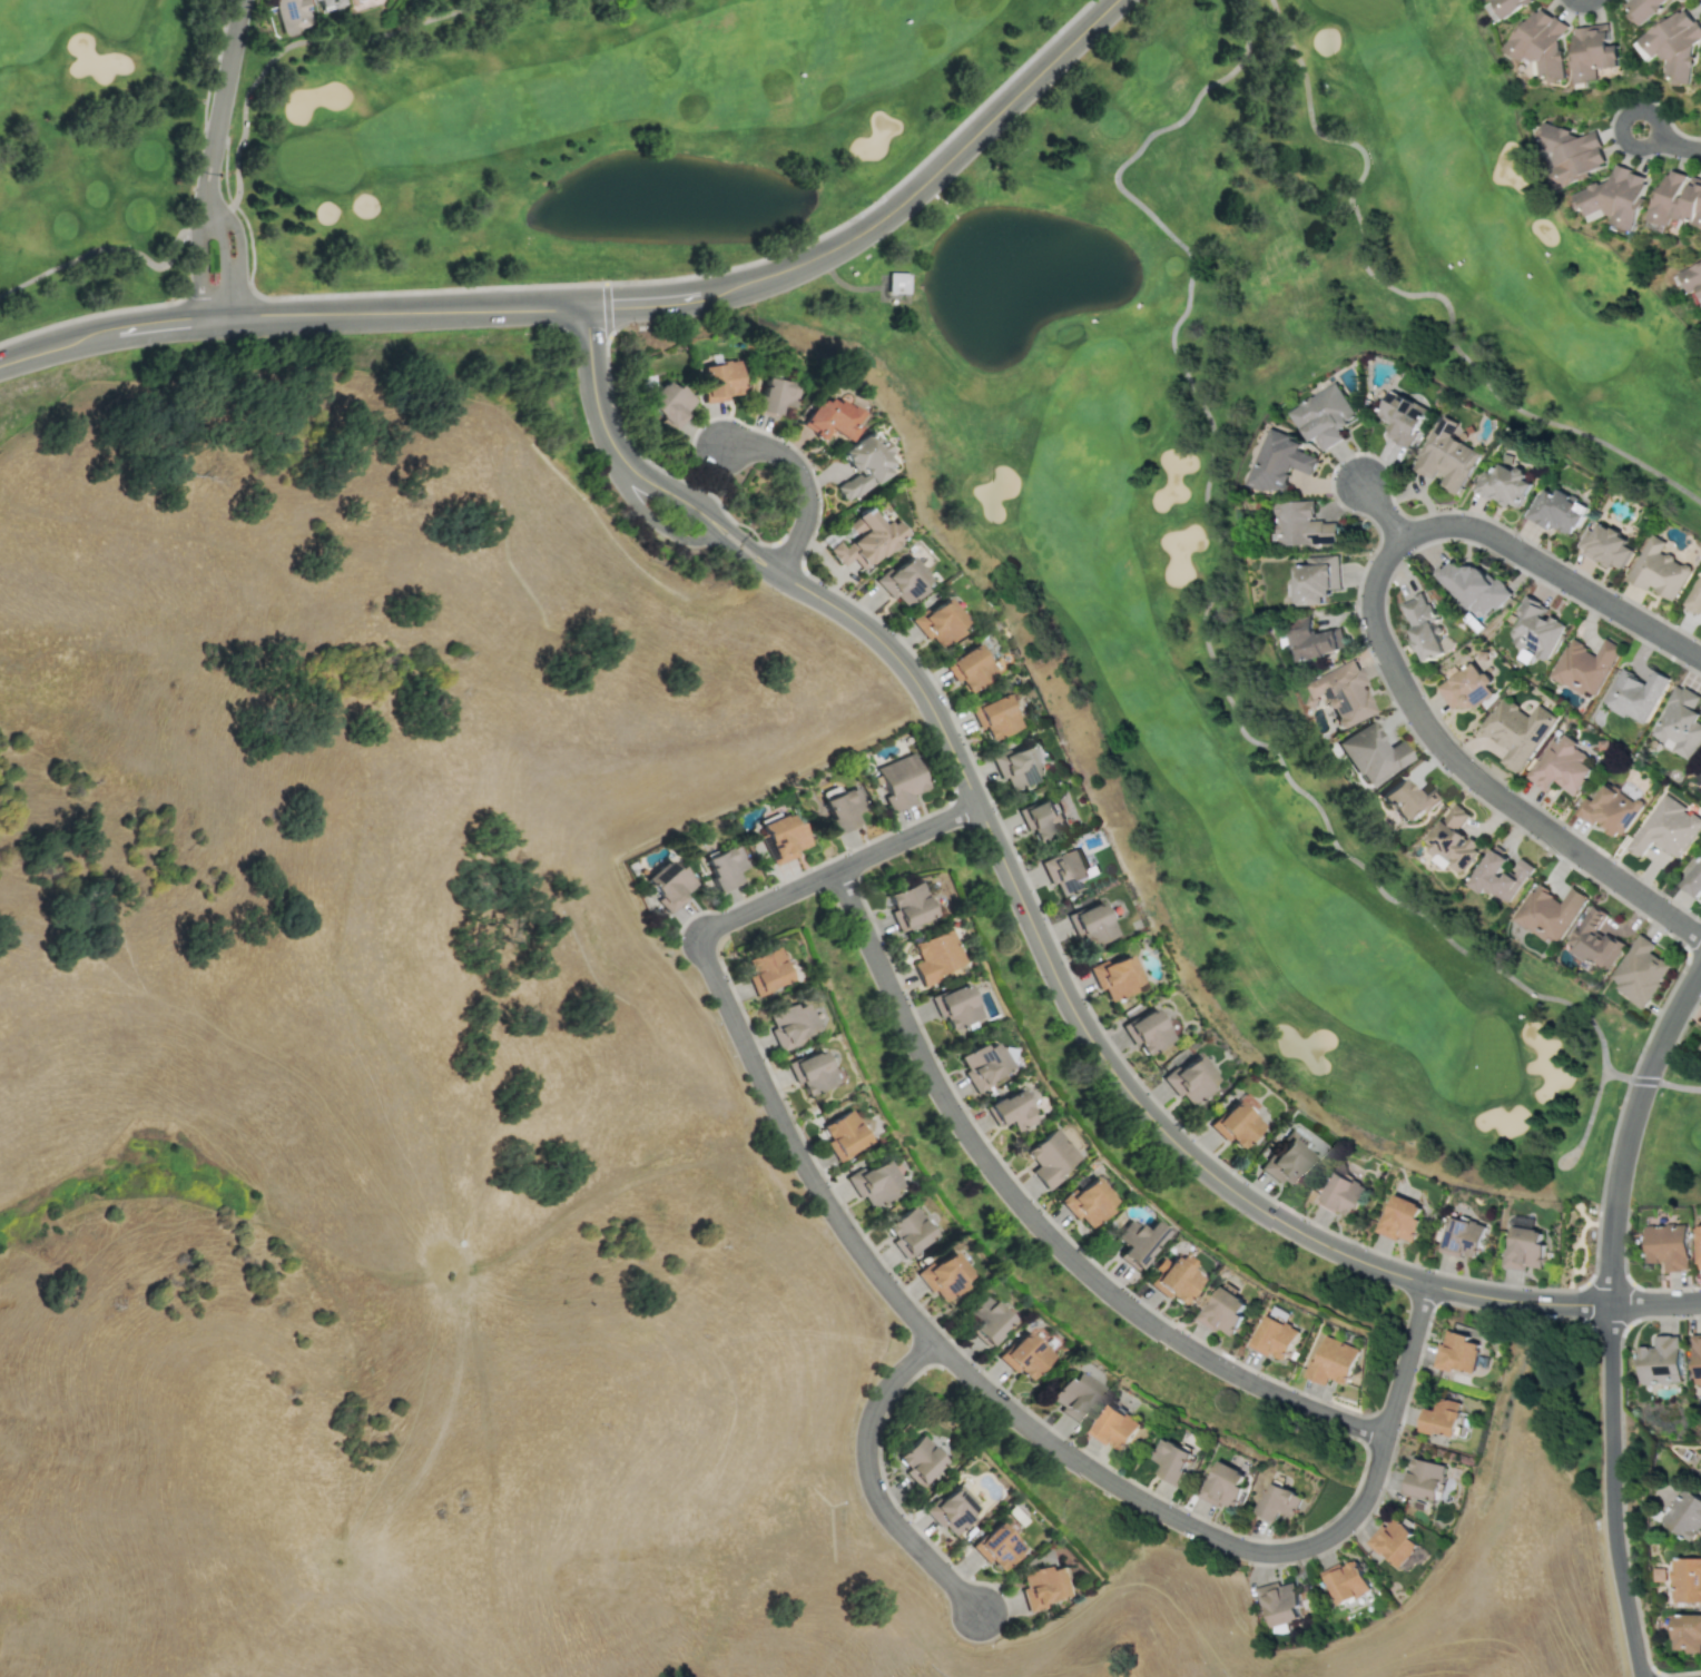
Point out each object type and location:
building: (309, 0)
road: (1582, 2)
building: (327, 3)
building: (1507, 4)
building: (1645, 9)
building: (291, 14)
park: (308, 18)
park: (1385, 28)
road: (293, 43)
building: (1541, 43)
building: (1674, 43)
building: (1593, 51)
road: (227, 70)
road: (1618, 134)
road: (1677, 146)
building: (1572, 152)
road: (928, 178)
park: (1628, 191)
building: (1614, 197)
building: (1677, 200)
road: (209, 214)
road: (237, 228)
road: (198, 231)
road: (106, 247)
road: (223, 254)
building: (1691, 277)
building: (897, 283)
road: (1415, 293)
road: (643, 300)
road: (401, 312)
road: (153, 325)
road: (45, 349)
building: (719, 381)
building: (774, 396)
building: (668, 403)
building: (1323, 416)
building: (1402, 417)
building: (830, 418)
road: (603, 425)
building: (1446, 456)
building: (1279, 462)
building: (863, 464)
road: (804, 482)
building: (1503, 485)
road: (1380, 511)
building: (1556, 512)
park: (1505, 515)
road: (655, 519)
building: (1301, 524)
road: (739, 533)
building: (866, 539)
road: (730, 544)
building: (1605, 545)
building: (1658, 570)
building: (1316, 579)
building: (904, 581)
park: (1123, 583)
building: (1474, 588)
road: (1215, 590)
building: (1695, 598)
building: (938, 621)
building: (1423, 627)
building: (1534, 629)
building: (1312, 639)
road: (1379, 639)
building: (1583, 665)
building: (969, 667)
park: (1492, 668)
building: (1465, 687)
building: (1341, 693)
building: (1634, 694)
building: (994, 716)
building: (1679, 722)
building: (1516, 731)
building: (1373, 753)
building: (1561, 764)
building: (1016, 766)
building: (901, 780)
building: (1407, 800)
building: (843, 808)
building: (1609, 810)
building: (1041, 818)
building: (1665, 828)
building: (783, 837)
building: (1454, 840)
building: (725, 866)
road: (838, 869)
building: (1066, 871)
building: (1498, 876)
building: (1692, 881)
building: (668, 884)
building: (905, 905)
building: (1548, 911)
building: (1092, 925)
building: (1595, 939)
building: (933, 956)
building: (765, 970)
road: (1053, 970)
building: (1640, 971)
building: (1114, 976)
building: (953, 1005)
road: (1678, 1007)
building: (790, 1024)
building: (1148, 1030)
building: (1699, 1046)
building: (982, 1064)
building: (813, 1072)
building: (1189, 1079)
road: (1645, 1081)
road: (1681, 1087)
building: (1010, 1109)
road: (1587, 1119)
building: (1237, 1121)
road: (1631, 1125)
building: (844, 1135)
building: (1050, 1156)
building: (1285, 1163)
building: (872, 1182)
building: (1343, 1194)
building: (1088, 1202)
building: (1400, 1219)
road: (1039, 1223)
building: (907, 1231)
building: (1462, 1236)
building: (1135, 1241)
building: (1698, 1244)
building: (1666, 1245)
building: (1524, 1249)
road: (1609, 1254)
building: (944, 1275)
building: (1174, 1278)
road: (1515, 1301)
road: (1654, 1302)
road: (904, 1308)
building: (1223, 1310)
building: (986, 1319)
building: (1274, 1336)
building: (1457, 1352)
building: (1023, 1355)
road: (1404, 1359)
building: (1695, 1359)
building: (1333, 1361)
building: (1660, 1361)
building: (1072, 1395)
building: (1441, 1417)
building: (1115, 1427)
building: (920, 1459)
building: (1171, 1460)
building: (1423, 1478)
road: (873, 1483)
building: (1223, 1486)
road: (1610, 1491)
building: (1278, 1502)
building: (952, 1509)
building: (1684, 1513)
road: (1340, 1525)
building: (1395, 1542)
building: (997, 1546)
building: (1685, 1579)
building: (1344, 1581)
building: (1042, 1586)
building: (1278, 1602)
building: (1685, 1632)

